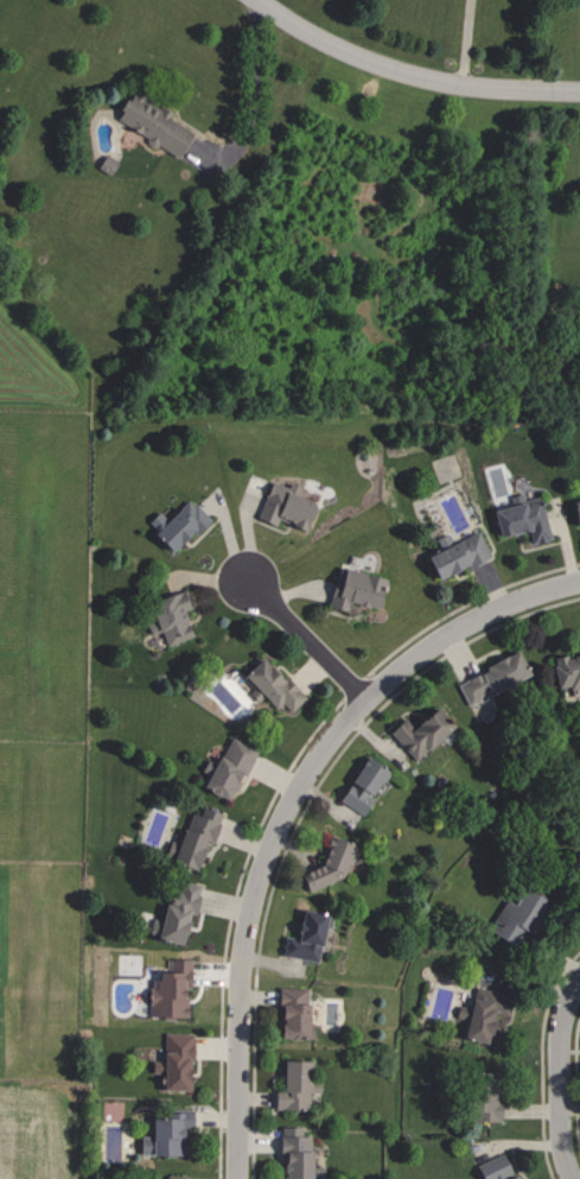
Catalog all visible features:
road: (464, 43)
road: (410, 75)
road: (253, 95)
building: (151, 122)
building: (104, 163)
building: (281, 505)
building: (575, 511)
building: (520, 518)
building: (176, 522)
building: (454, 553)
building: (352, 588)
building: (170, 615)
road: (305, 639)
building: (566, 668)
building: (491, 676)
building: (272, 685)
building: (416, 733)
building: (227, 767)
building: (359, 785)
road: (287, 805)
road: (305, 820)
building: (578, 824)
building: (191, 837)
building: (327, 863)
building: (173, 909)
building: (512, 917)
building: (304, 936)
building: (168, 990)
building: (292, 1014)
building: (477, 1014)
building: (172, 1060)
road: (546, 1064)
road: (559, 1077)
building: (291, 1085)
building: (482, 1097)
building: (165, 1134)
building: (293, 1153)
building: (496, 1167)
building: (174, 1175)

